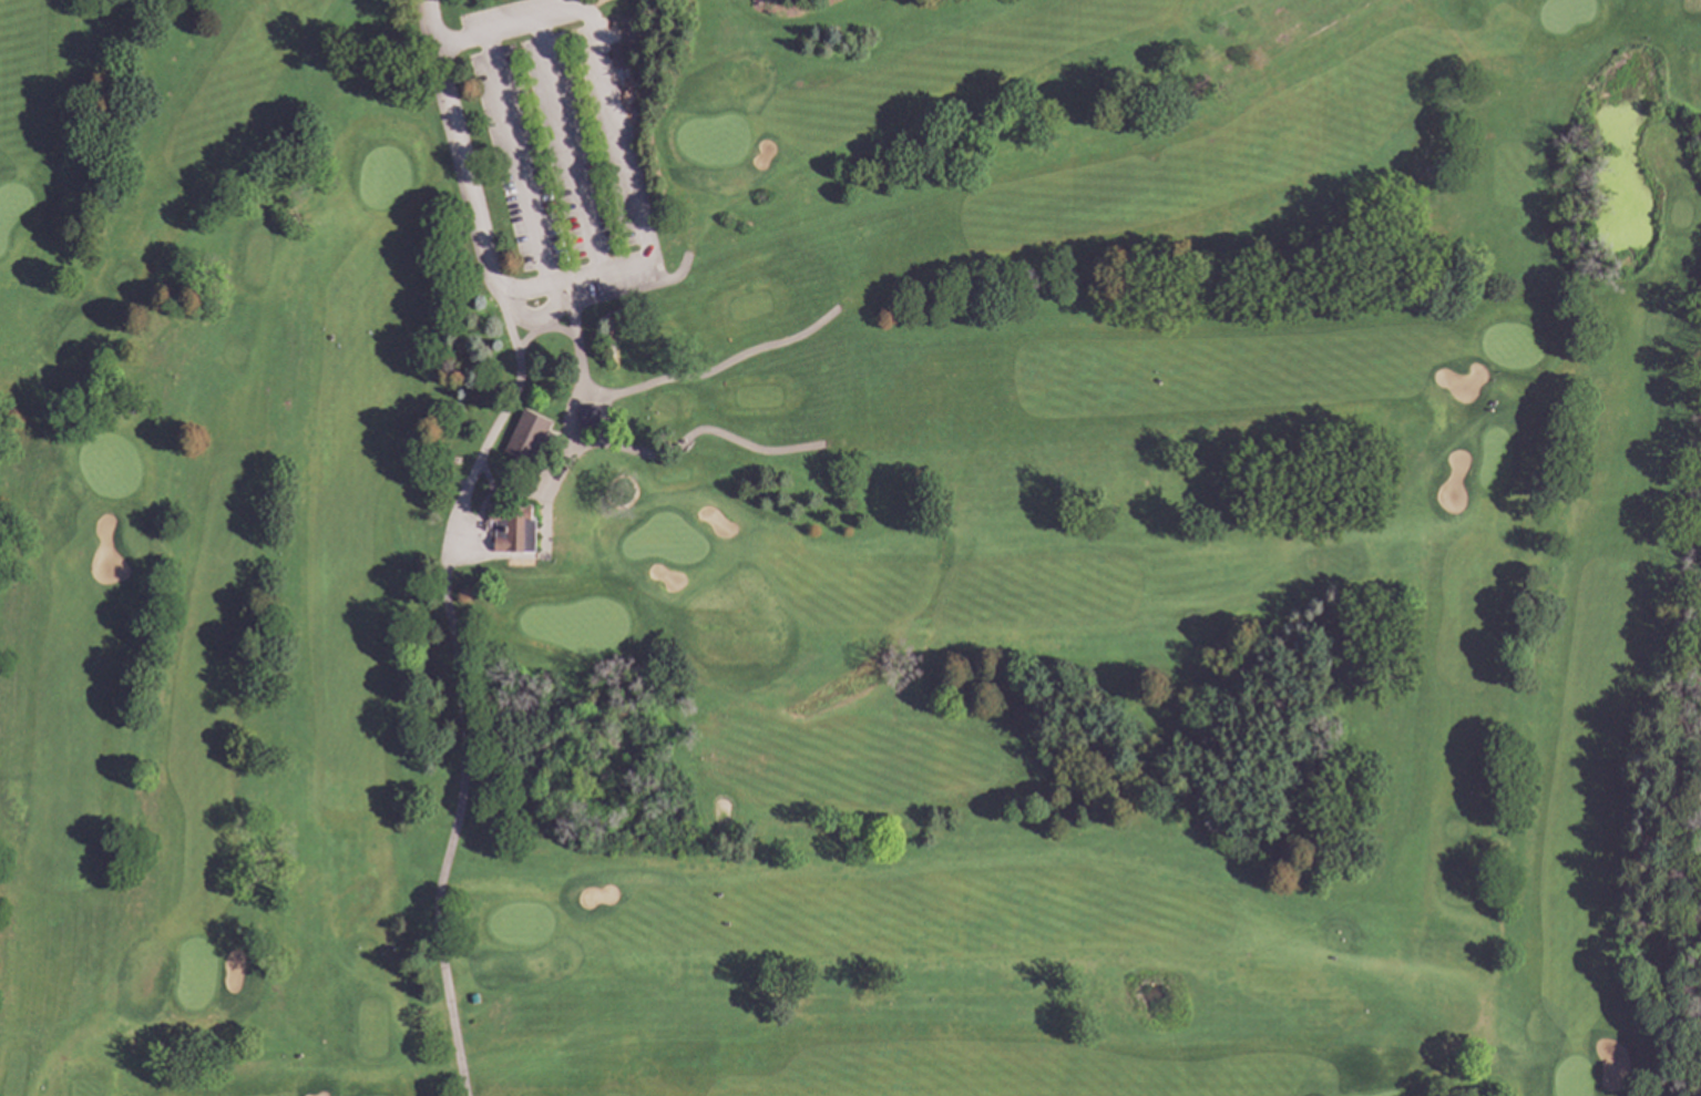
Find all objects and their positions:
road: (514, 24)
road: (621, 137)
parking lot: (560, 141)
road: (567, 145)
road: (460, 150)
road: (518, 158)
road: (451, 164)
road: (606, 268)
road: (667, 279)
road: (536, 286)
road: (600, 298)
road: (570, 307)
road: (536, 316)
road: (520, 326)
road: (553, 328)
road: (522, 339)
road: (713, 369)
road: (576, 396)
building: (587, 417)
road: (688, 434)
building: (526, 436)
road: (584, 444)
building: (455, 460)
road: (554, 475)
road: (490, 489)
road: (518, 495)
building: (512, 527)
road: (544, 527)
park: (850, 547)
road: (516, 555)
road: (467, 565)
road: (458, 687)

